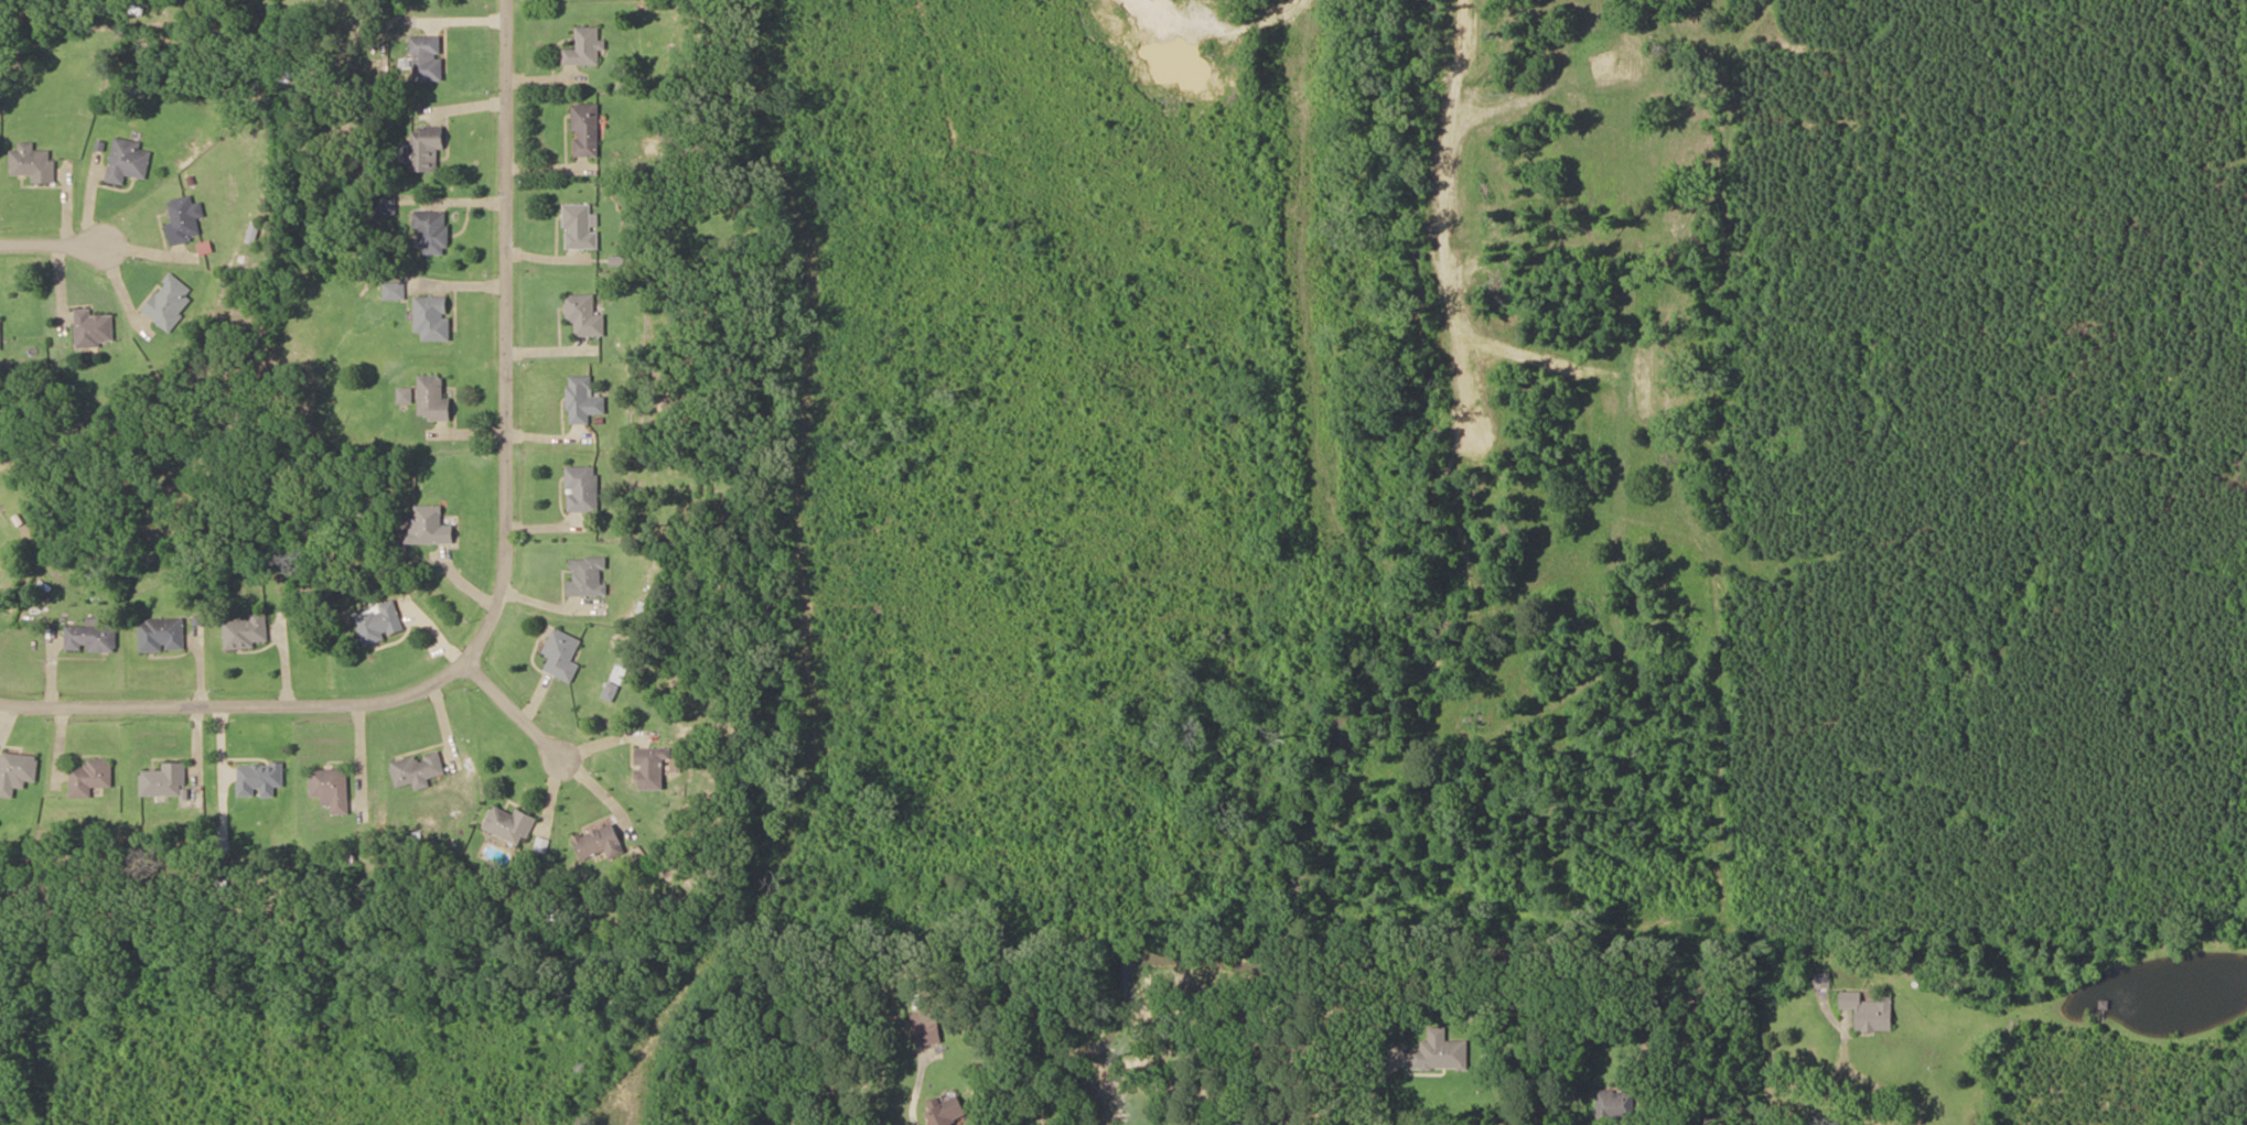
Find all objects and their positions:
building: (584, 48)
building: (427, 58)
building: (585, 130)
building: (426, 149)
building: (128, 161)
building: (33, 163)
building: (386, 206)
building: (185, 220)
building: (580, 228)
building: (433, 232)
road: (49, 248)
building: (395, 291)
building: (170, 302)
building: (585, 316)
building: (433, 318)
building: (94, 329)
road: (505, 335)
building: (434, 400)
building: (584, 401)
building: (583, 489)
building: (430, 527)
building: (589, 577)
building: (378, 624)
building: (246, 632)
building: (161, 636)
building: (90, 639)
building: (562, 657)
building: (612, 693)
road: (237, 705)
road: (513, 710)
building: (653, 769)
building: (418, 771)
building: (17, 774)
building: (90, 778)
building: (260, 780)
building: (165, 781)
building: (332, 789)
building: (510, 824)
building: (601, 842)
building: (1870, 1012)
building: (927, 1036)
building: (1441, 1052)
building: (1615, 1107)
building: (948, 1112)
building: (1224, 1121)

